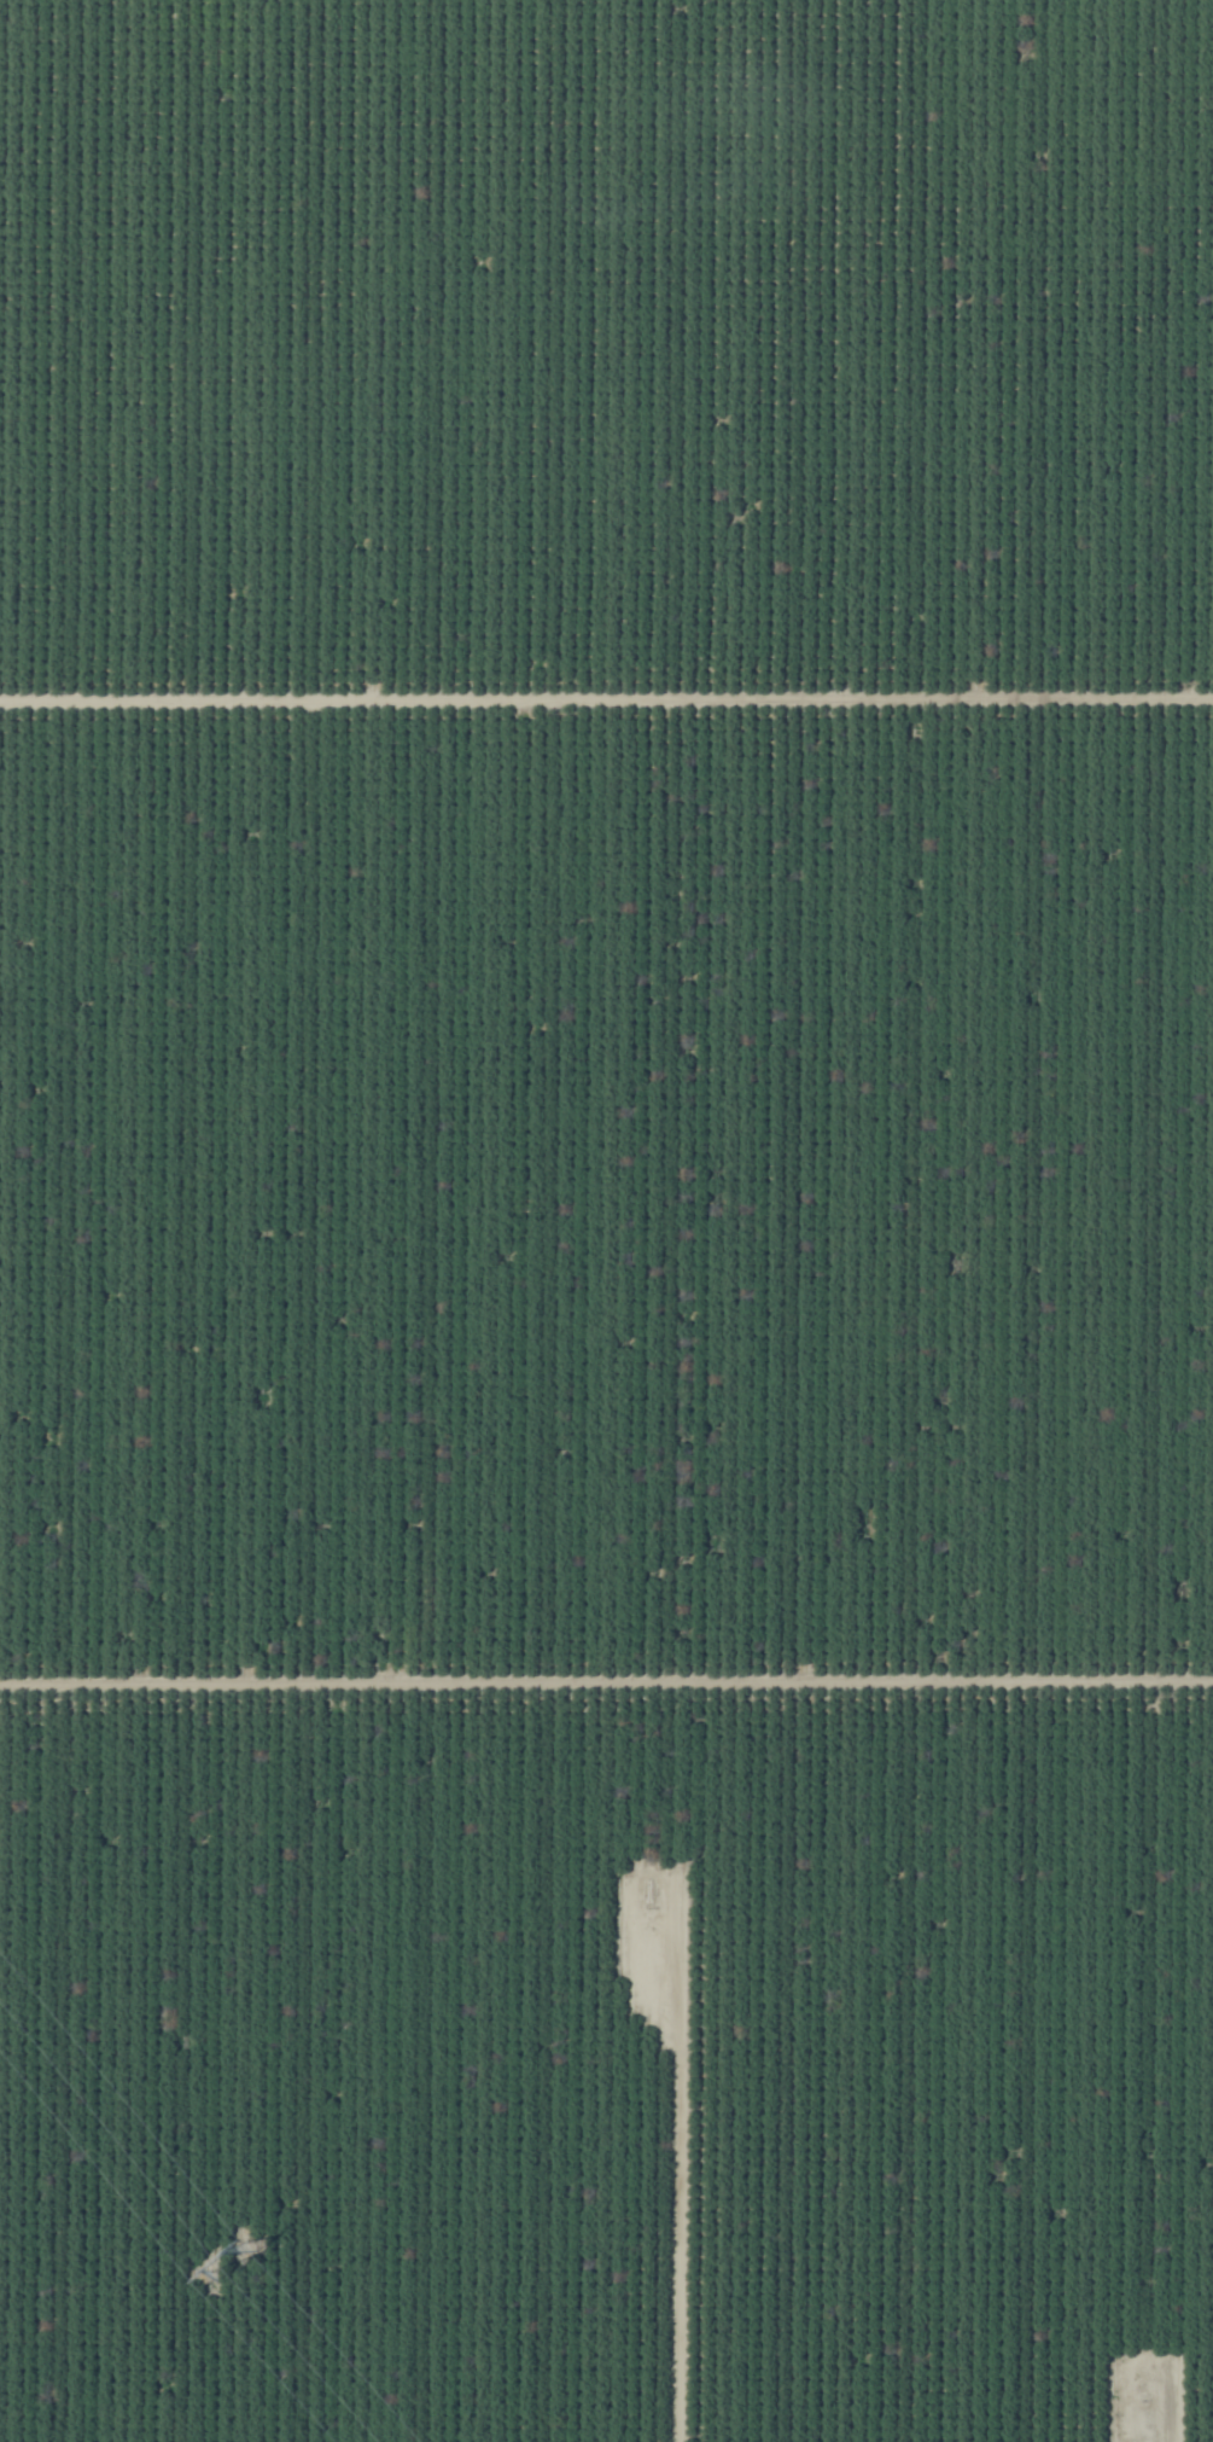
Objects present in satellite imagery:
power tower: (244, 2266)

